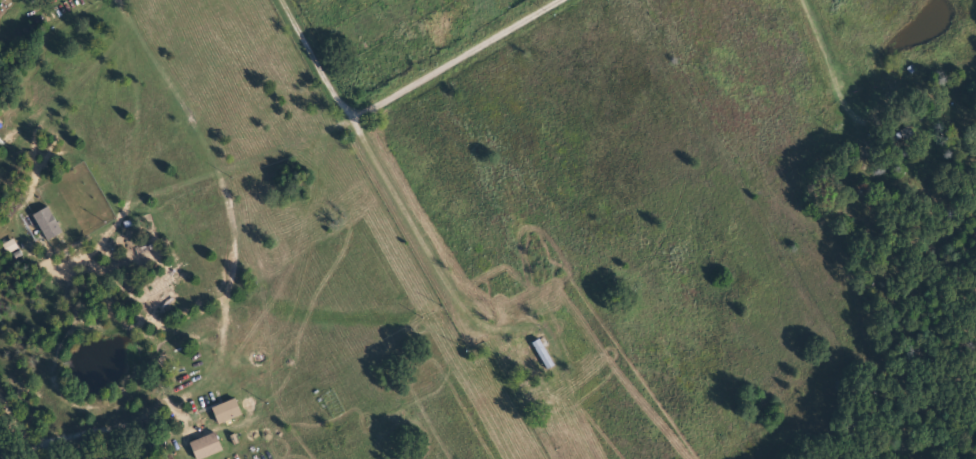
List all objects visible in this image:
road: (451, 57)
road: (697, 96)
road: (376, 156)
building: (542, 353)
building: (225, 410)
road: (18, 427)
building: (205, 445)

